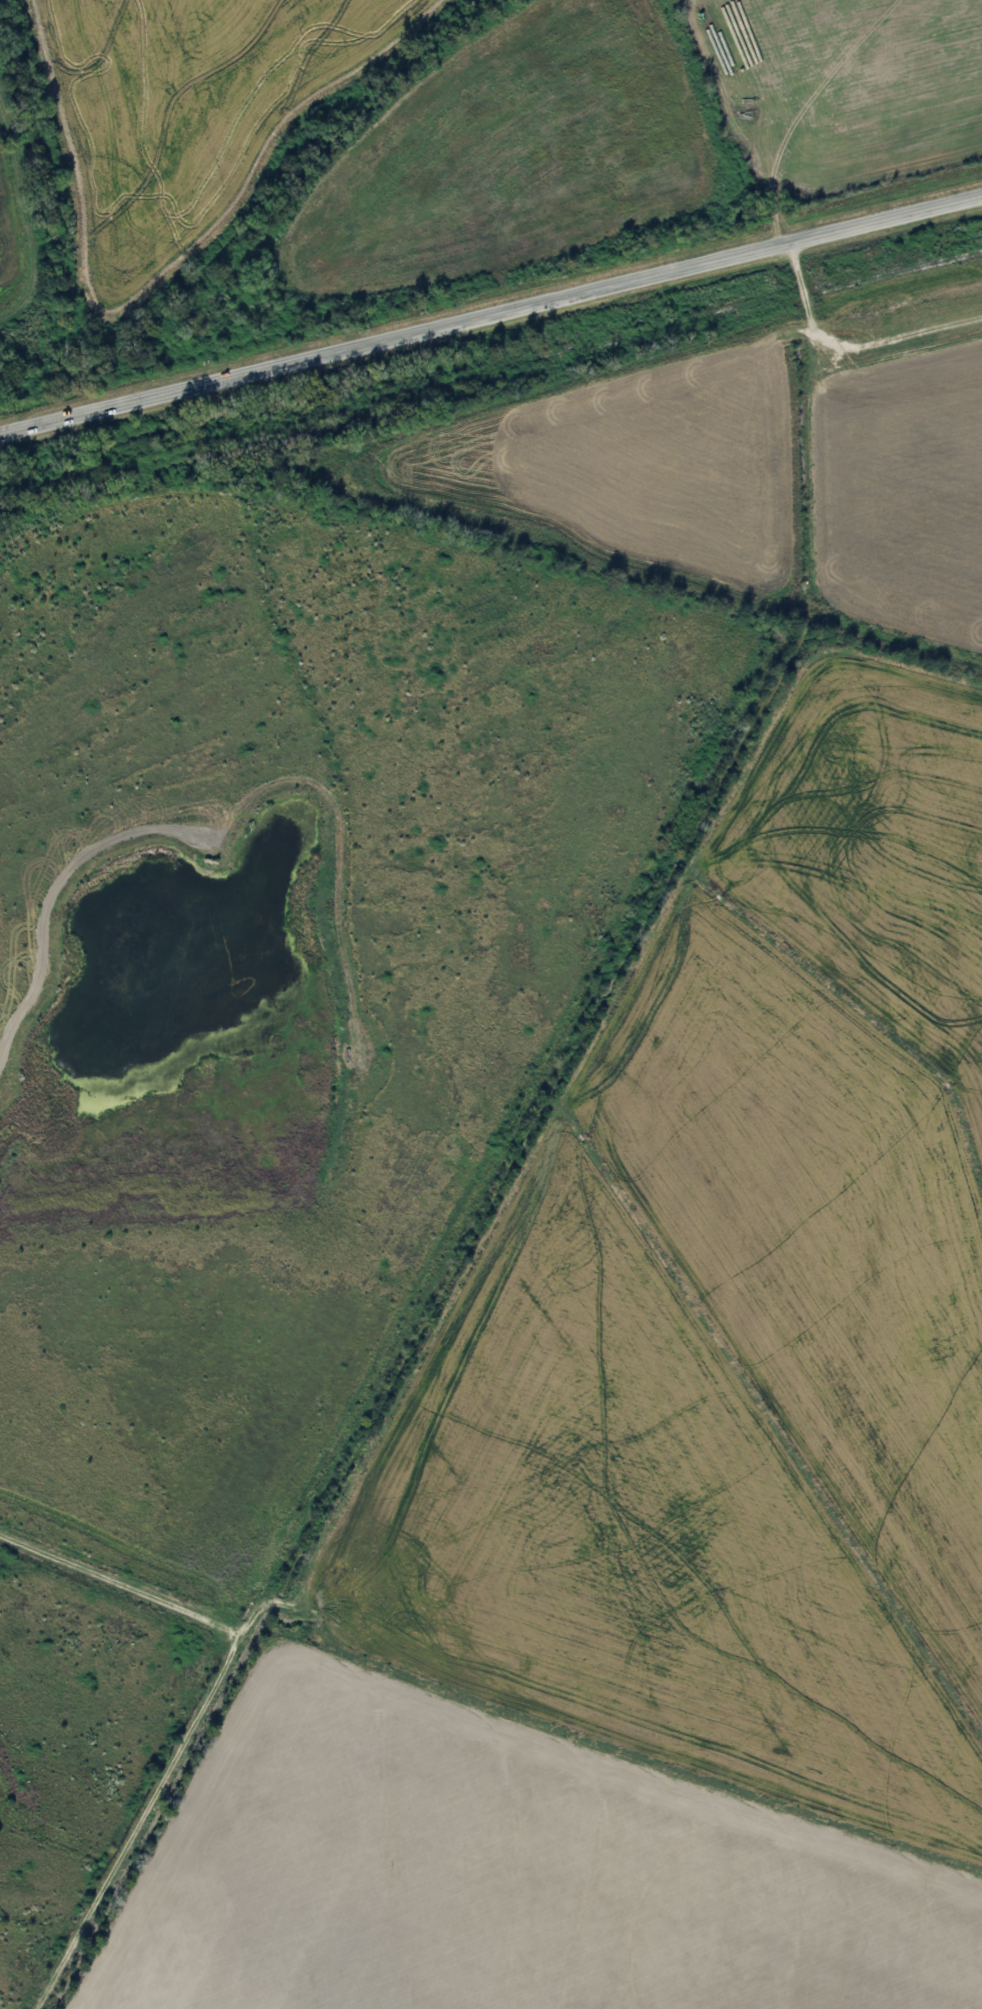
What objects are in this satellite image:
road: (491, 315)
railway: (491, 370)
road: (506, 1129)

